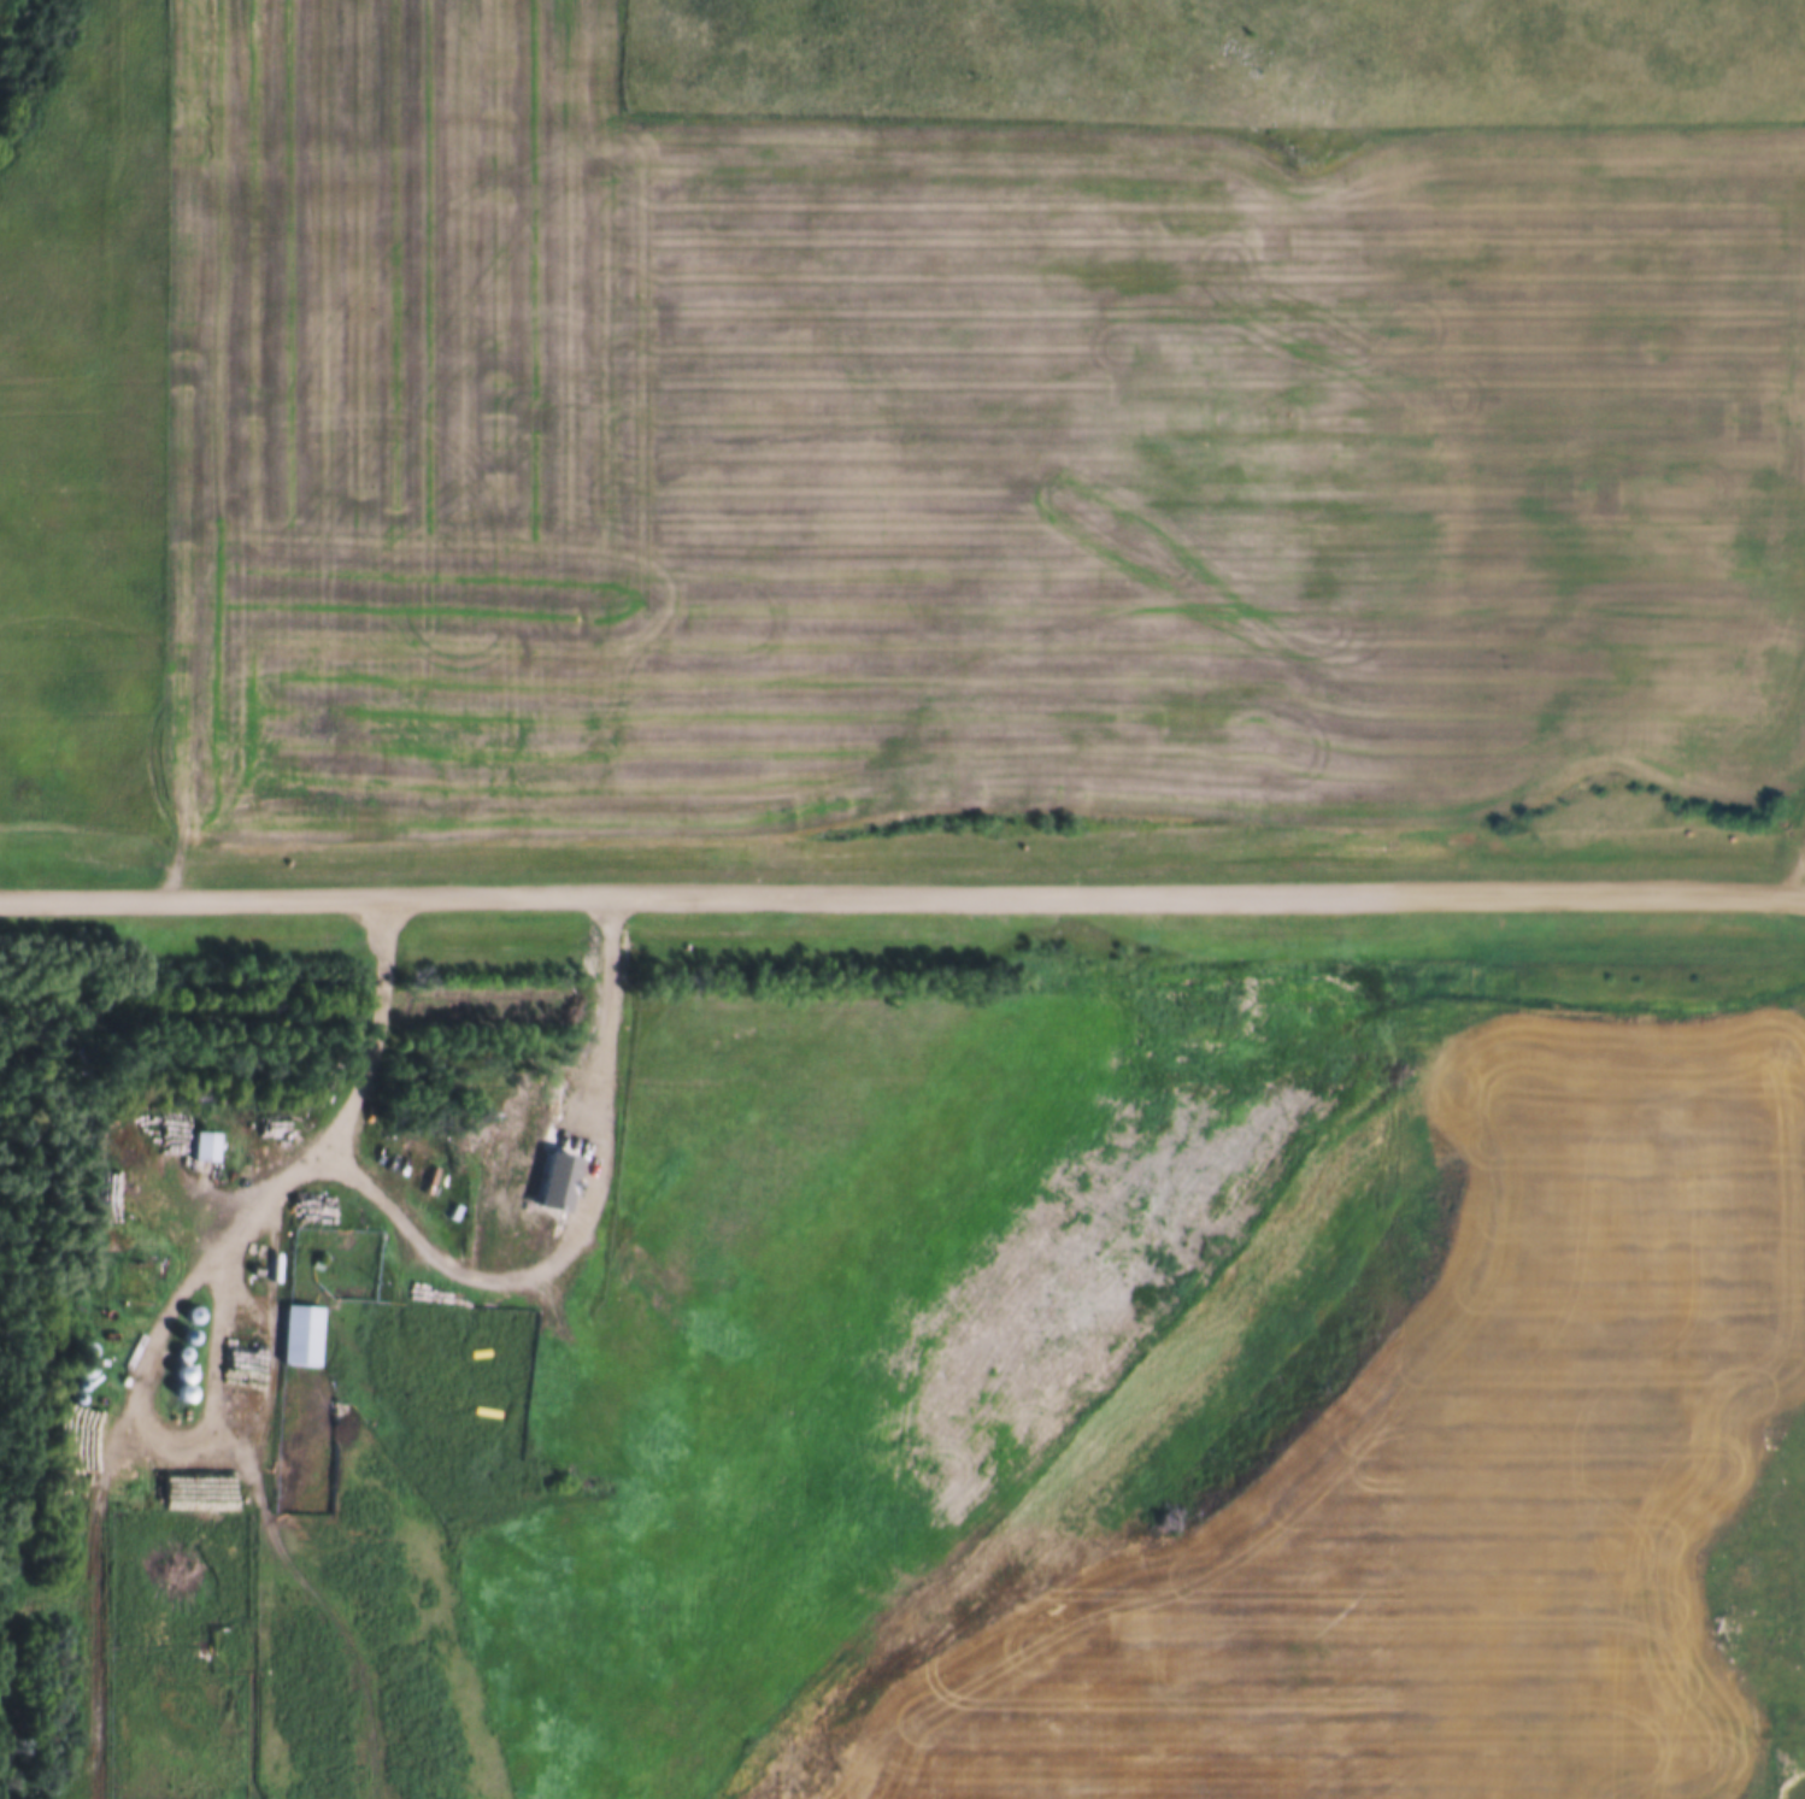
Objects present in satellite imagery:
road: (1795, 876)
road: (902, 893)
building: (83, 1063)
building: (608, 1071)
building: (202, 1136)
building: (553, 1162)
road: (267, 1184)
building: (135, 1282)
building: (192, 1303)
silo: (192, 1303)
building: (464, 1317)
building: (298, 1321)
building: (184, 1323)
silo: (184, 1323)
building: (83, 1339)
silo: (83, 1339)
building: (181, 1342)
silo: (181, 1342)
building: (83, 1357)
silo: (83, 1357)
building: (180, 1360)
silo: (180, 1360)
building: (77, 1372)
silo: (77, 1372)
building: (181, 1380)
silo: (181, 1380)
building: (74, 1386)
silo: (74, 1386)
road: (88, 1628)

